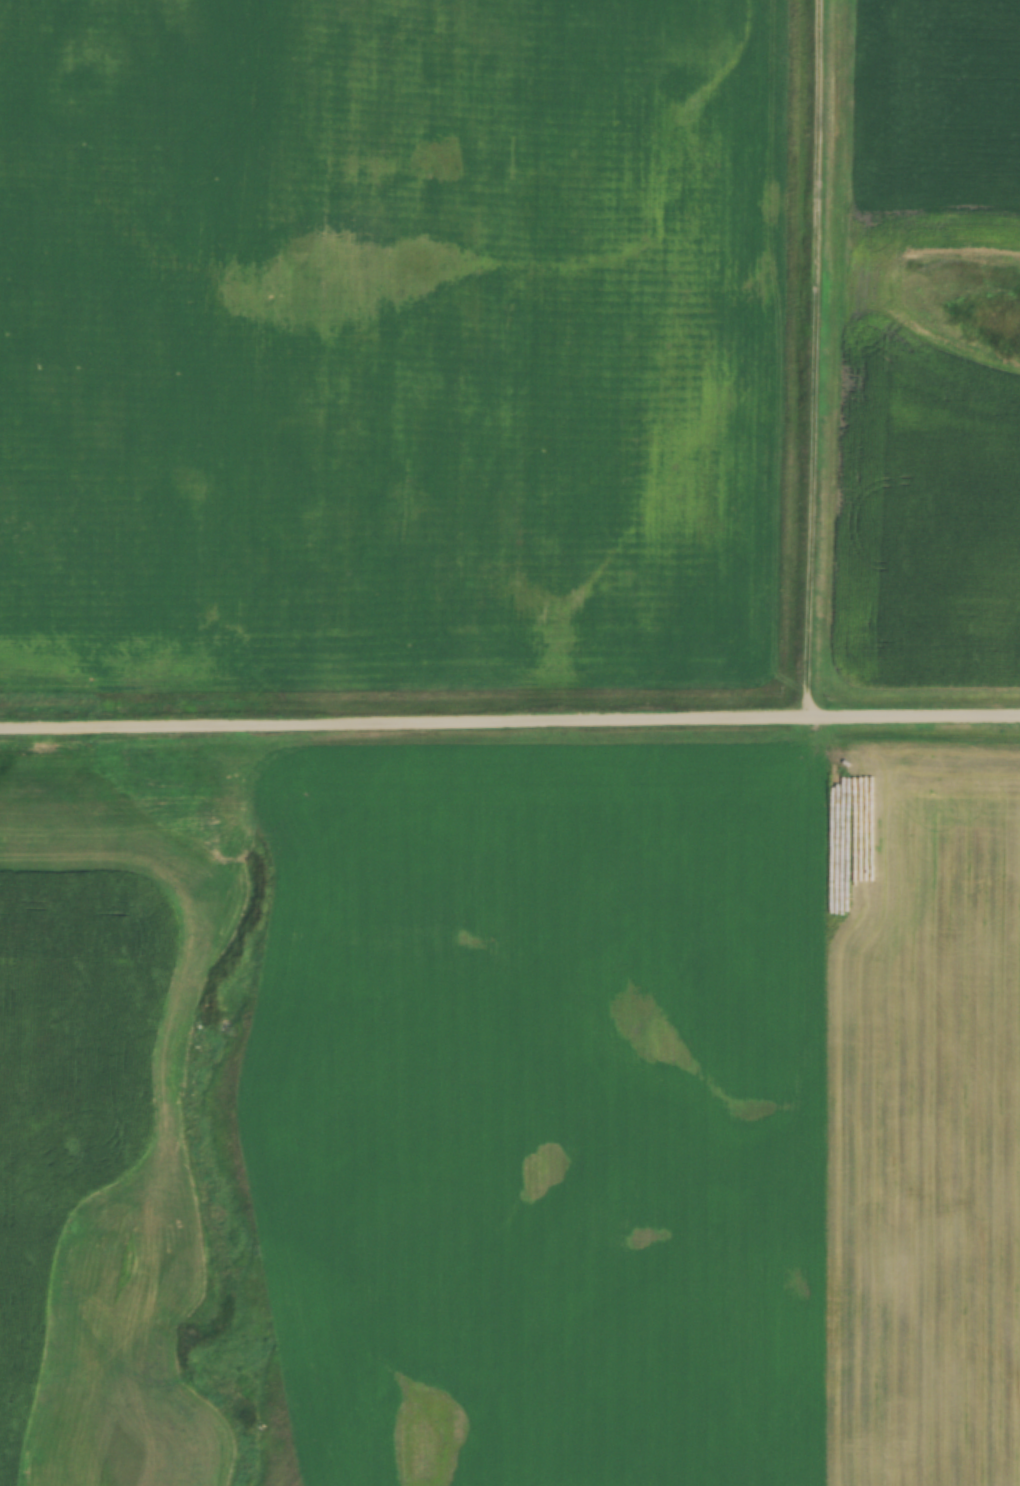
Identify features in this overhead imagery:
road: (810, 356)
road: (509, 718)

